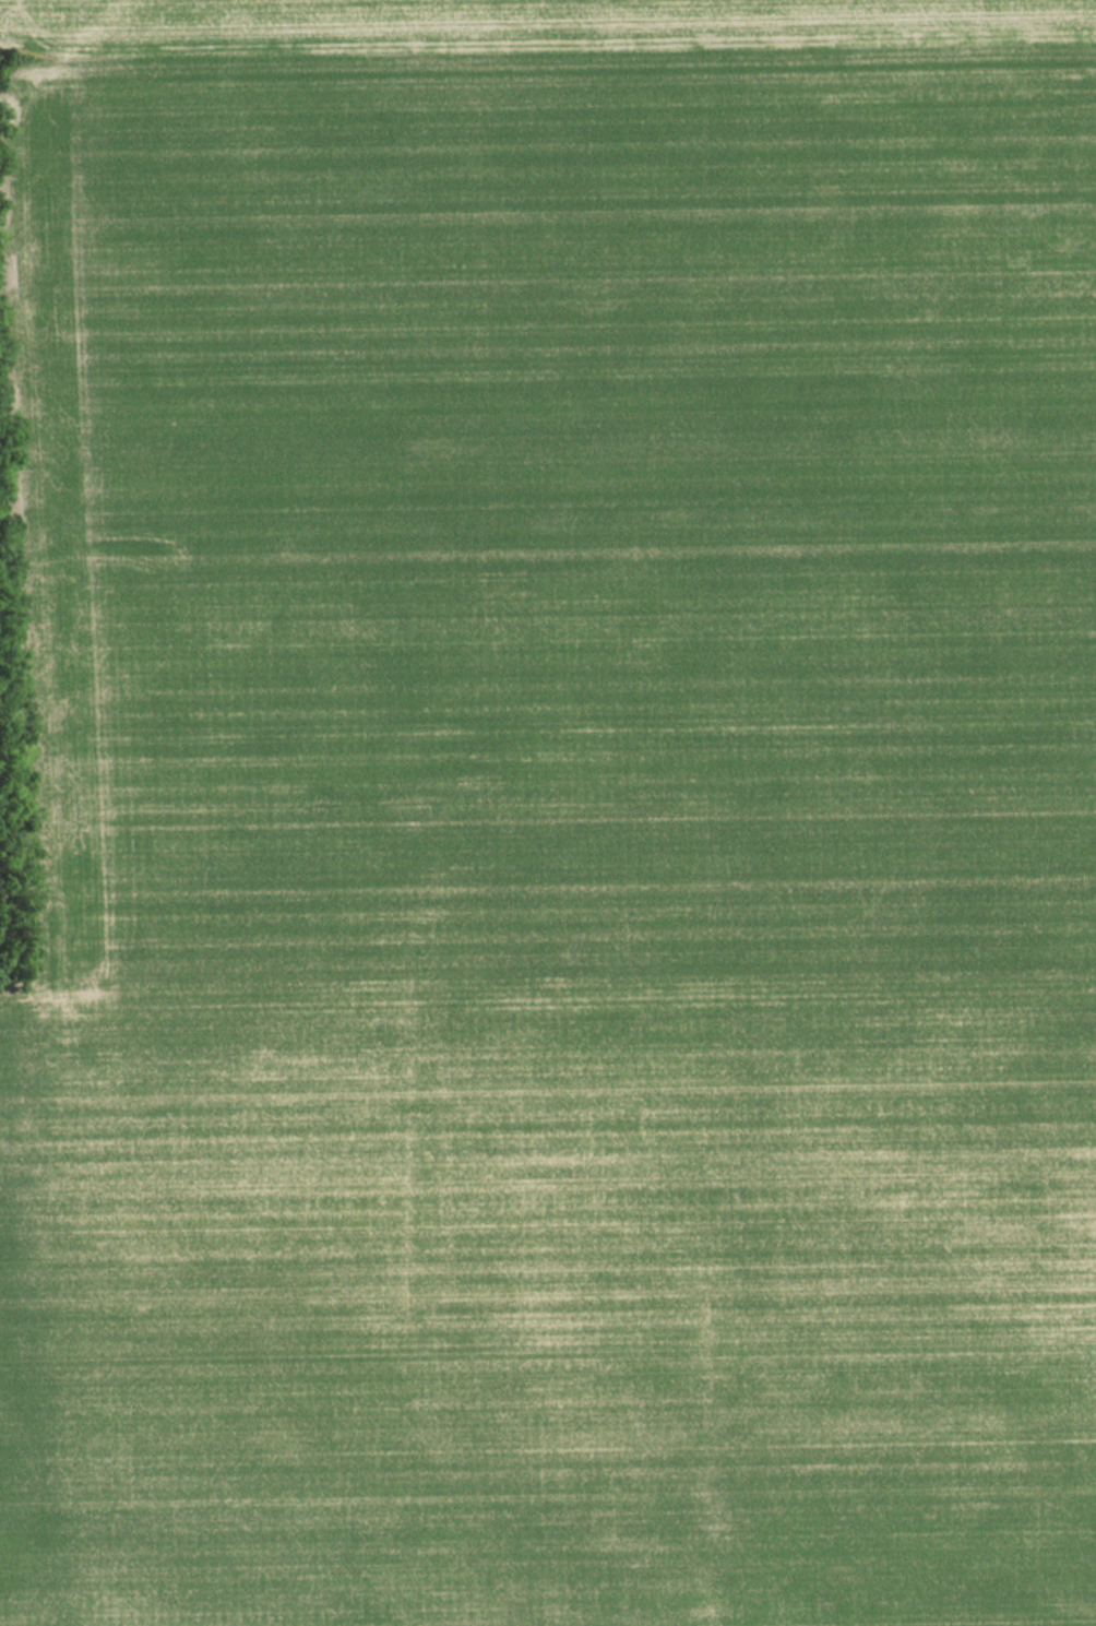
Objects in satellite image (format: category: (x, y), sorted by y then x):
crop: (538, 21)
crop: (551, 834)

